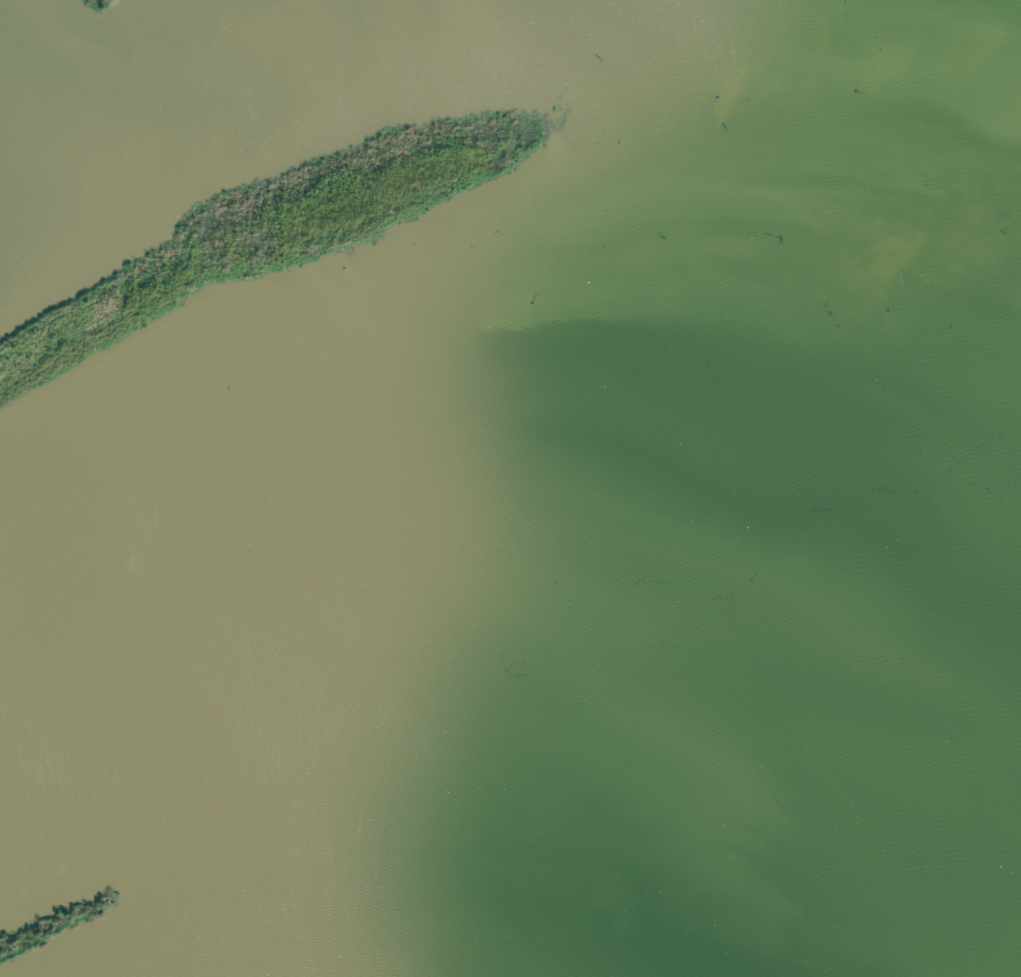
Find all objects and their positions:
river: (511, 788)

